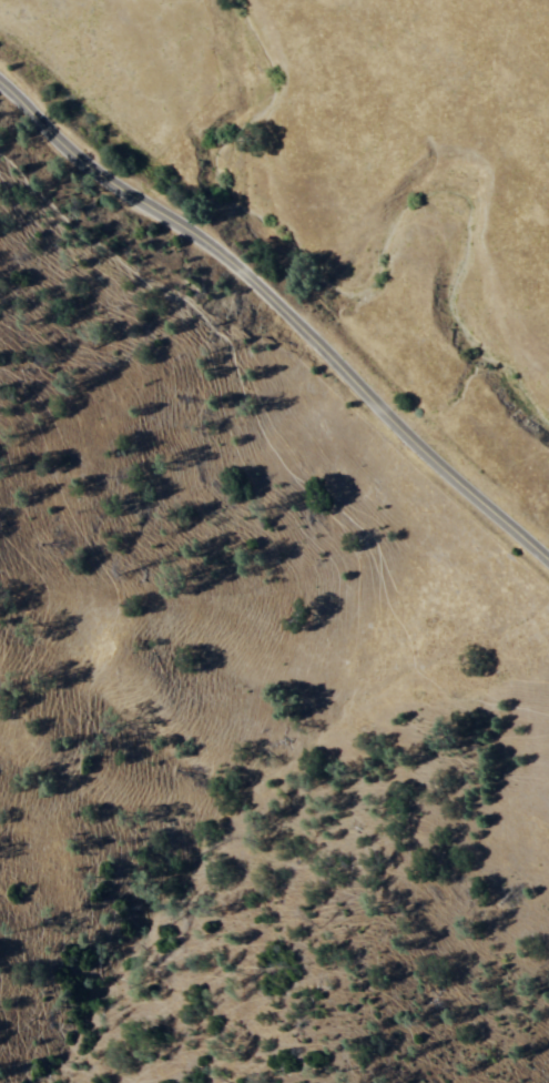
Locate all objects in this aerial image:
road: (281, 305)
crop: (514, 486)
crop: (504, 588)

